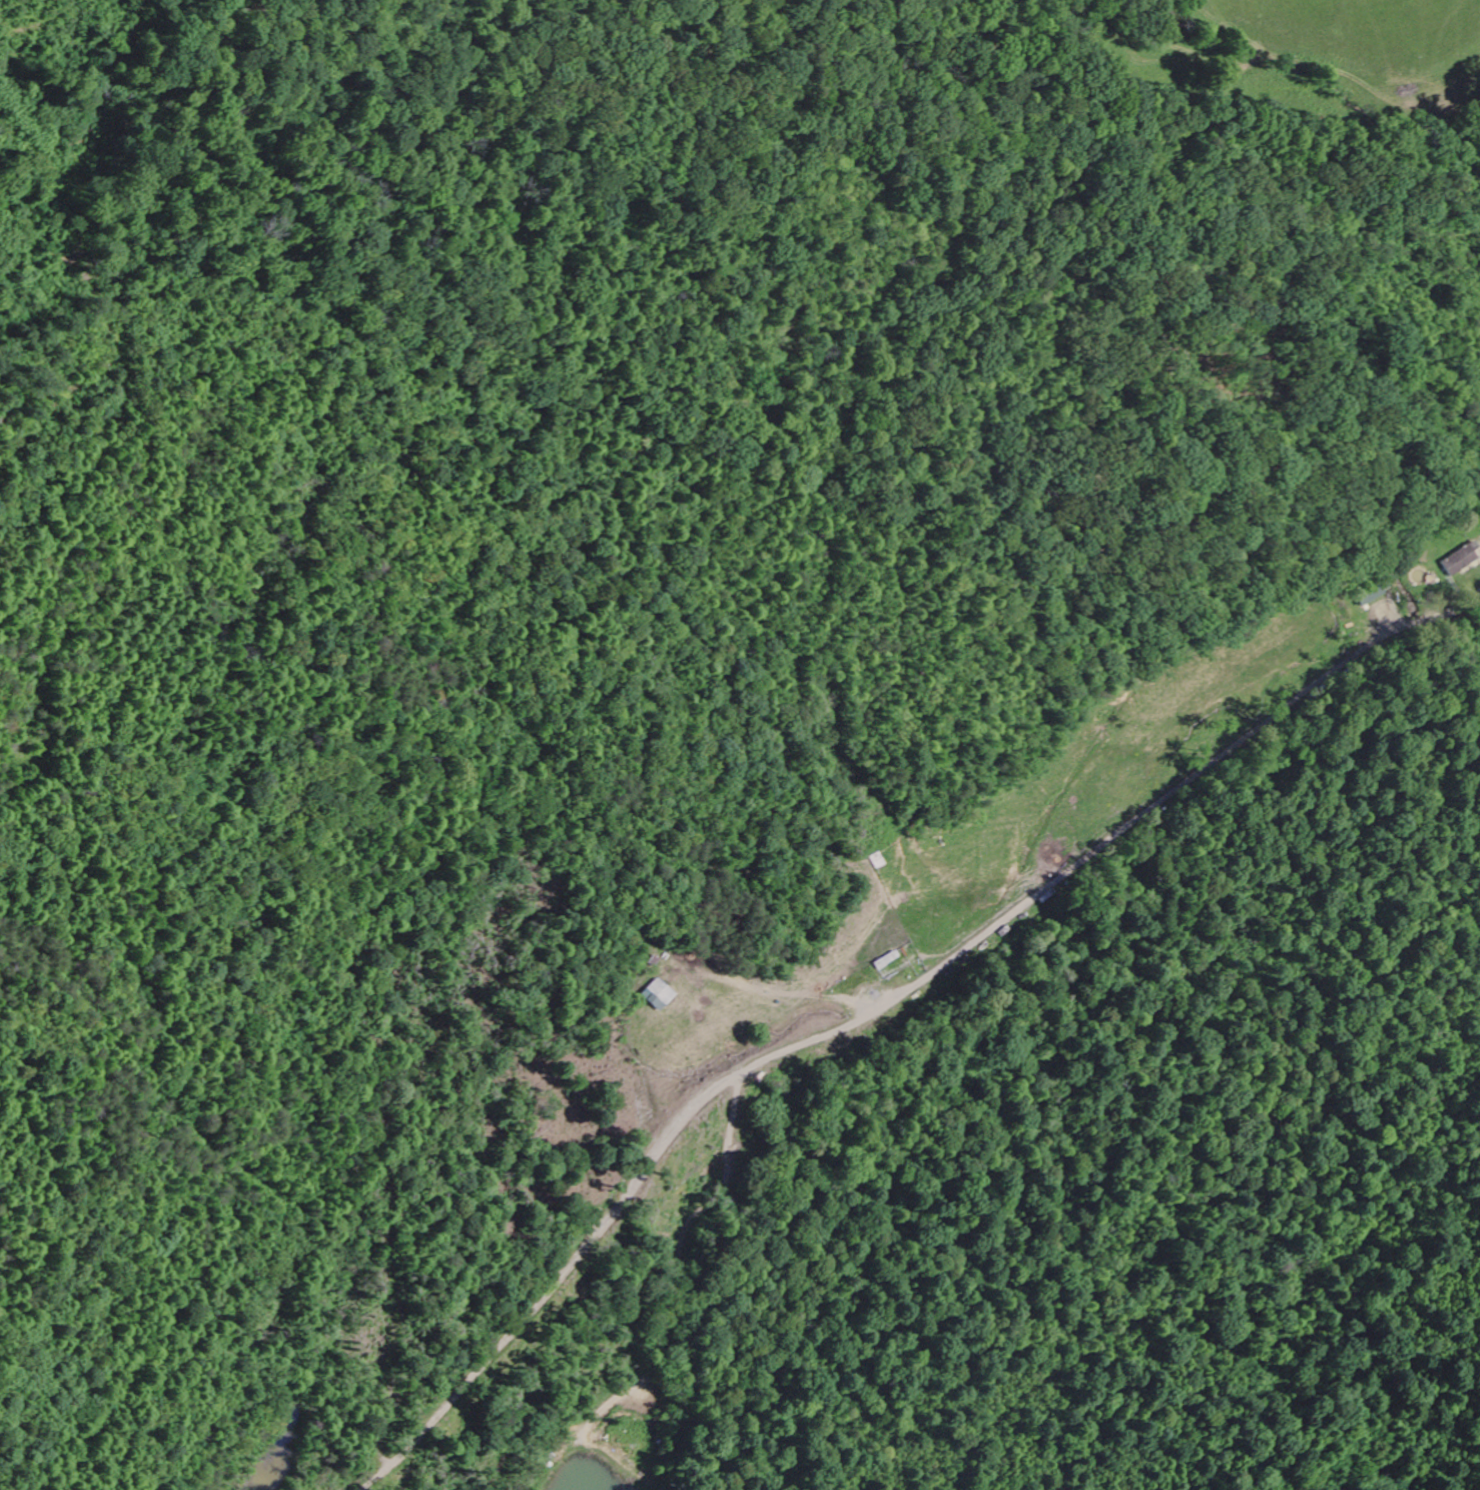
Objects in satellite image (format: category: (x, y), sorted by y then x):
building: (1461, 558)
building: (1373, 592)
road: (883, 1006)

